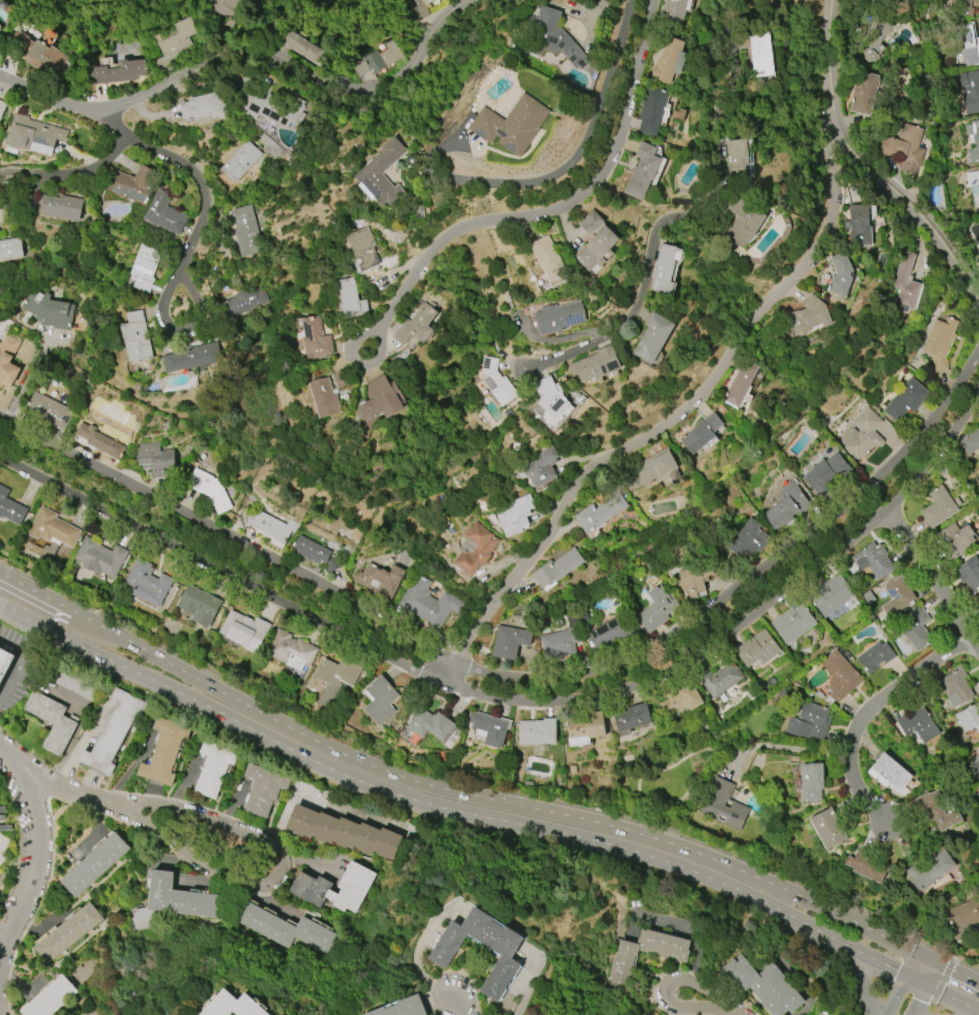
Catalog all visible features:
building: (873, 0)
building: (875, 0)
building: (230, 6)
building: (963, 7)
building: (419, 9)
building: (673, 13)
building: (869, 36)
building: (551, 39)
building: (970, 42)
building: (176, 44)
building: (300, 45)
road: (248, 51)
building: (38, 54)
building: (760, 54)
building: (378, 59)
building: (669, 61)
building: (119, 72)
building: (968, 90)
building: (863, 93)
building: (270, 106)
building: (204, 107)
building: (2, 108)
building: (652, 110)
building: (511, 125)
building: (33, 133)
building: (973, 142)
building: (903, 149)
building: (737, 159)
building: (241, 161)
road: (568, 166)
road: (93, 167)
road: (866, 167)
building: (640, 171)
building: (382, 176)
road: (43, 177)
building: (131, 183)
building: (973, 190)
road: (564, 203)
building: (61, 207)
building: (164, 215)
road: (678, 215)
building: (742, 223)
building: (593, 225)
building: (858, 227)
building: (247, 231)
building: (975, 232)
road: (193, 236)
road: (736, 237)
building: (596, 248)
building: (10, 249)
building: (363, 249)
building: (548, 258)
building: (977, 262)
building: (145, 268)
building: (664, 268)
building: (841, 274)
building: (906, 282)
building: (350, 300)
building: (244, 302)
building: (46, 310)
building: (810, 316)
building: (559, 317)
building: (415, 325)
building: (653, 337)
building: (136, 338)
building: (316, 338)
building: (939, 343)
building: (192, 358)
building: (7, 361)
road: (356, 362)
building: (596, 364)
building: (339, 379)
building: (497, 382)
building: (741, 384)
road: (21, 389)
building: (550, 396)
building: (324, 398)
building: (380, 400)
building: (905, 400)
building: (49, 410)
road: (675, 417)
building: (702, 433)
building: (863, 434)
building: (99, 441)
building: (966, 447)
building: (157, 460)
building: (540, 467)
building: (658, 468)
building: (826, 473)
building: (209, 489)
building: (787, 505)
building: (10, 507)
building: (938, 507)
building: (600, 512)
building: (514, 515)
building: (271, 526)
building: (52, 528)
road: (226, 535)
building: (748, 539)
building: (954, 539)
building: (475, 549)
building: (315, 553)
building: (100, 558)
building: (873, 560)
building: (557, 568)
road: (218, 569)
building: (970, 573)
road: (932, 577)
road: (746, 578)
building: (380, 580)
building: (694, 580)
building: (148, 583)
building: (832, 596)
building: (896, 596)
building: (978, 599)
building: (429, 603)
building: (199, 605)
building: (657, 609)
road: (743, 618)
building: (793, 623)
building: (917, 630)
building: (244, 631)
building: (610, 633)
building: (561, 640)
building: (510, 641)
building: (757, 649)
building: (290, 651)
building: (875, 657)
building: (5, 663)
road: (17, 663)
building: (840, 675)
building: (334, 678)
building: (720, 679)
building: (75, 685)
building: (955, 686)
building: (680, 699)
building: (380, 700)
road: (866, 711)
road: (81, 717)
building: (631, 719)
building: (52, 721)
building: (809, 721)
building: (970, 722)
building: (431, 724)
building: (918, 725)
building: (488, 728)
building: (584, 729)
building: (113, 732)
building: (536, 732)
road: (786, 745)
road: (719, 749)
building: (978, 749)
building: (164, 751)
building: (975, 766)
building: (213, 768)
building: (889, 773)
road: (39, 774)
road: (355, 780)
building: (811, 782)
road: (483, 783)
building: (264, 789)
road: (447, 790)
park: (659, 790)
road: (327, 804)
building: (722, 805)
building: (935, 810)
building: (828, 828)
building: (344, 833)
road: (38, 853)
building: (95, 865)
building: (868, 866)
building: (930, 871)
road: (280, 873)
building: (310, 888)
building: (172, 901)
building: (963, 913)
building: (286, 929)
road: (820, 932)
building: (68, 933)
building: (503, 947)
road: (1, 953)
road: (927, 958)
building: (621, 964)
road: (911, 964)
traffic signals: (951, 970)
traffic signals: (897, 971)
road: (958, 973)
road: (932, 975)
road: (916, 981)
road: (941, 981)
building: (764, 985)
road: (667, 987)
road: (866, 987)
road: (895, 995)
building: (49, 998)
road: (952, 998)
road: (920, 1000)
traffic signals: (920, 1001)
road: (460, 1004)
building: (233, 1005)
building: (403, 1008)

